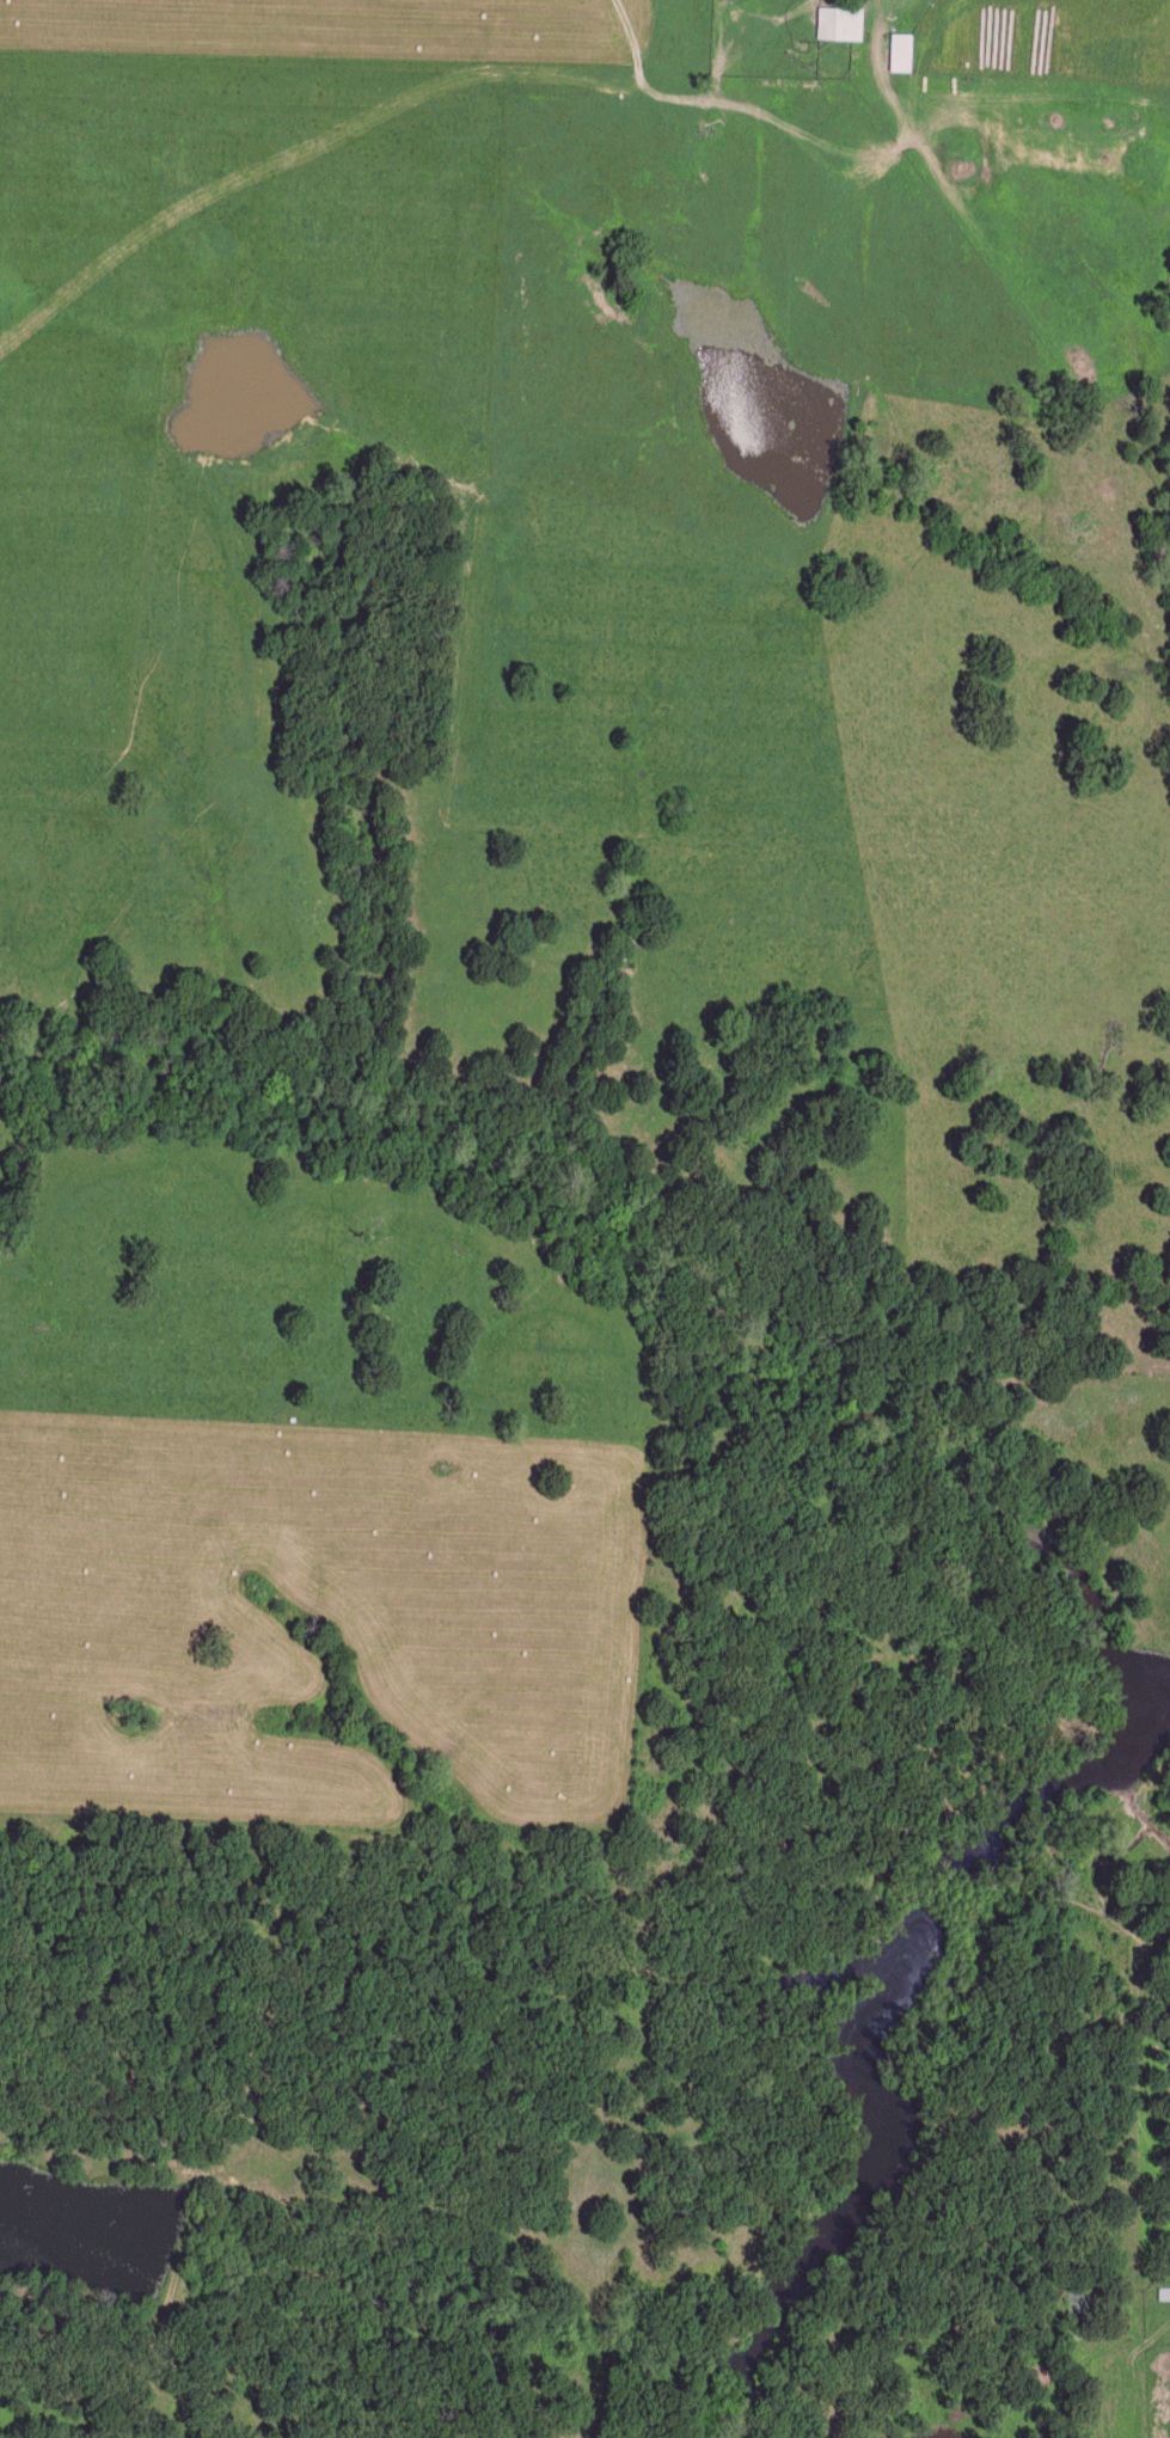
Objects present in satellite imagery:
building: (839, 20)

